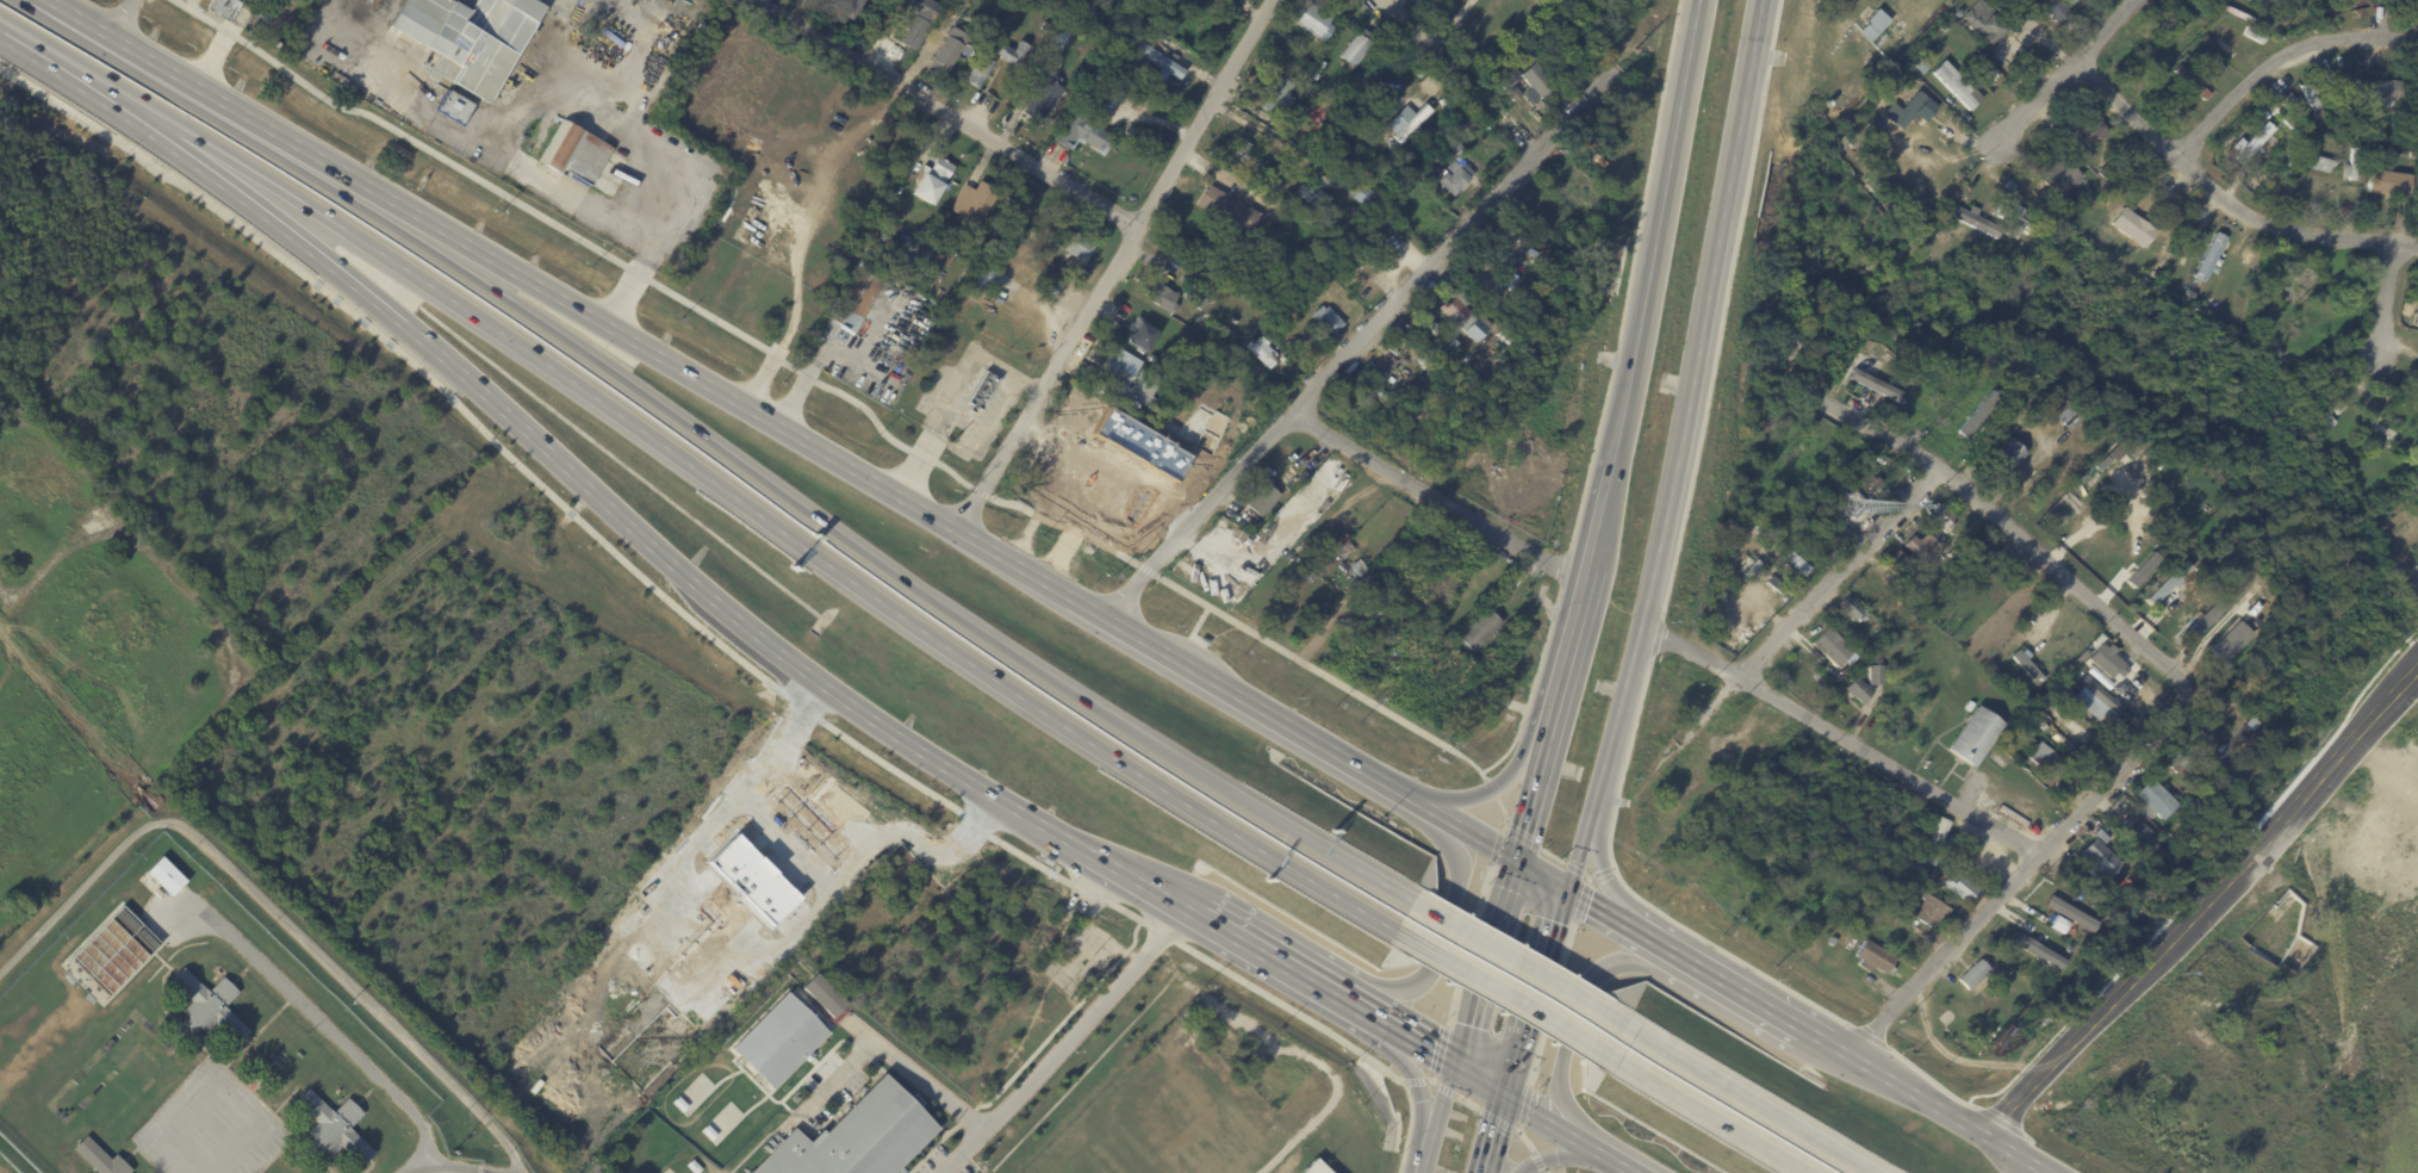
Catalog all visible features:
building: (1238, 0)
building: (2379, 0)
building: (1064, 1)
building: (2071, 4)
building: (224, 7)
building: (847, 8)
building: (2375, 10)
building: (266, 17)
road: (118, 19)
building: (1313, 19)
building: (920, 21)
building: (981, 23)
road: (1448, 23)
building: (1982, 24)
building: (1872, 25)
road: (1405, 27)
building: (1944, 27)
road: (0, 30)
building: (2252, 36)
building: (2205, 38)
building: (472, 39)
building: (1059, 39)
road: (928, 44)
building: (1802, 45)
building: (1359, 48)
building: (950, 50)
building: (2183, 58)
road: (2280, 60)
building: (983, 66)
building: (1163, 66)
building: (2209, 66)
building: (1917, 67)
building: (1561, 68)
building: (1819, 69)
building: (1318, 70)
road: (2062, 73)
building: (1990, 76)
road: (76, 79)
building: (1534, 81)
building: (2330, 81)
building: (1435, 83)
building: (2189, 83)
building: (1954, 85)
building: (1904, 91)
building: (2376, 91)
building: (1273, 94)
building: (2308, 98)
building: (1044, 99)
building: (1634, 99)
building: (1825, 104)
building: (2411, 106)
building: (2289, 107)
building: (458, 108)
building: (1904, 110)
road: (523, 111)
building: (1324, 111)
building: (1931, 111)
road: (944, 113)
building: (2394, 117)
road: (624, 119)
building: (1409, 122)
building: (2286, 122)
building: (1467, 123)
building: (2305, 124)
building: (2084, 125)
building: (1081, 134)
building: (2342, 134)
building: (1624, 136)
road: (478, 141)
building: (1114, 141)
building: (2339, 141)
road: (1525, 143)
building: (1306, 144)
building: (2254, 144)
building: (2412, 154)
building: (583, 156)
building: (1249, 159)
road: (321, 163)
building: (2317, 163)
building: (2350, 163)
building: (1457, 173)
road: (257, 174)
building: (2102, 174)
building: (2057, 178)
building: (933, 180)
building: (2386, 185)
building: (1012, 188)
building: (1312, 197)
road: (2224, 198)
building: (974, 205)
building: (1229, 209)
building: (2068, 211)
building: (1419, 216)
building: (2007, 218)
building: (1972, 222)
road: (1658, 224)
building: (2131, 228)
building: (1020, 229)
building: (2052, 229)
building: (1074, 243)
building: (933, 246)
building: (915, 247)
building: (927, 254)
building: (993, 254)
building: (2209, 257)
building: (2244, 261)
road: (337, 266)
building: (1000, 266)
building: (924, 268)
road: (1115, 268)
building: (2155, 277)
building: (990, 279)
building: (1361, 284)
building: (1486, 285)
road: (628, 290)
building: (2295, 290)
building: (857, 298)
building: (1164, 298)
road: (2386, 299)
building: (1200, 302)
building: (2205, 305)
building: (1465, 315)
building: (1235, 319)
building: (1329, 319)
building: (1143, 334)
building: (1505, 336)
building: (1441, 341)
road: (1359, 347)
road: (578, 348)
building: (1791, 348)
building: (1264, 350)
building: (1123, 366)
road: (814, 371)
building: (1492, 371)
building: (1875, 385)
building: (1143, 387)
road: (580, 389)
road: (950, 392)
building: (1119, 398)
building: (2058, 403)
building: (976, 406)
building: (2337, 408)
road: (748, 412)
building: (1423, 415)
building: (2321, 420)
building: (2377, 434)
road: (1677, 449)
building: (1871, 453)
building: (2003, 459)
building: (2354, 461)
road: (1107, 472)
building: (1304, 477)
building: (2417, 486)
building: (1266, 499)
road: (1441, 499)
building: (2040, 503)
road: (1602, 515)
building: (1941, 519)
airport: (158, 527)
road: (2008, 527)
building: (1919, 546)
building: (1347, 548)
road: (980, 550)
building: (1947, 553)
building: (1452, 554)
building: (1747, 554)
building: (1794, 561)
building: (1331, 564)
building: (1895, 564)
building: (1360, 567)
building: (2140, 569)
road: (1839, 570)
building: (2410, 579)
building: (2165, 583)
building: (1776, 584)
building: (1292, 590)
building: (2183, 600)
building: (1319, 609)
building: (1850, 609)
building: (1915, 616)
building: (1475, 629)
building: (1829, 646)
road: (782, 650)
building: (2080, 659)
building: (1441, 660)
building: (2106, 660)
road: (1567, 662)
building: (1393, 663)
road: (745, 665)
building: (2026, 665)
building: (1890, 668)
building: (1875, 675)
building: (1857, 690)
building: (2100, 696)
road: (1241, 701)
building: (1966, 705)
building: (2070, 724)
building: (2205, 736)
building: (1972, 737)
road: (1841, 739)
road: (1093, 745)
building: (2227, 747)
building: (2175, 763)
building: (2044, 764)
road: (1491, 792)
road: (1227, 793)
road: (1494, 795)
road: (1525, 800)
building: (2151, 800)
road: (1431, 814)
building: (1935, 832)
building: (2132, 833)
road: (1477, 842)
road: (1546, 852)
building: (2096, 855)
building: (1916, 857)
traffic signals: (1508, 859)
road: (1600, 868)
road: (1609, 870)
building: (167, 875)
road: (1536, 876)
road: (2020, 877)
road: (1140, 879)
road: (1379, 882)
building: (1891, 883)
building: (1909, 887)
building: (1958, 888)
traffic signals: (1566, 893)
building: (2051, 899)
road: (2196, 904)
road: (271, 907)
road: (1595, 910)
building: (1851, 912)
building: (1926, 912)
building: (204, 913)
building: (2072, 917)
building: (201, 921)
building: (2057, 923)
building: (1888, 936)
road: (1443, 941)
road: (1648, 942)
building: (116, 949)
road: (1276, 958)
building: (1870, 958)
road: (1480, 961)
road: (1522, 967)
building: (1972, 975)
building: (2001, 991)
road: (1535, 992)
building: (823, 994)
road: (1505, 997)
building: (210, 1005)
road: (1759, 1007)
road: (1574, 1011)
road: (1368, 1013)
building: (819, 1022)
road: (324, 1024)
road: (1062, 1039)
building: (1224, 1041)
road: (1419, 1043)
building: (279, 1056)
building: (1210, 1063)
traffic signals: (1453, 1063)
road: (909, 1072)
building: (757, 1074)
building: (1301, 1074)
road: (1325, 1074)
road: (1478, 1078)
road: (832, 1080)
road: (1415, 1084)
traffic signals: (1503, 1092)
road: (1752, 1103)
road: (1438, 1106)
road: (1537, 1112)
road: (1941, 1116)
road: (1711, 1117)
building: (335, 1125)
building: (1251, 1127)
building: (1357, 1129)
road: (1491, 1131)
traffic signals: (1491, 1136)
building: (857, 1137)
building: (1241, 1137)
road: (1586, 1141)
building: (1233, 1152)
building: (1342, 1154)
road: (1553, 1155)
building: (101, 1158)
building: (1217, 1158)
road: (1424, 1161)
road: (1620, 1161)
building: (1199, 1165)
road: (414, 1166)
road: (461, 1166)
building: (1313, 1167)
building: (1192, 1171)

